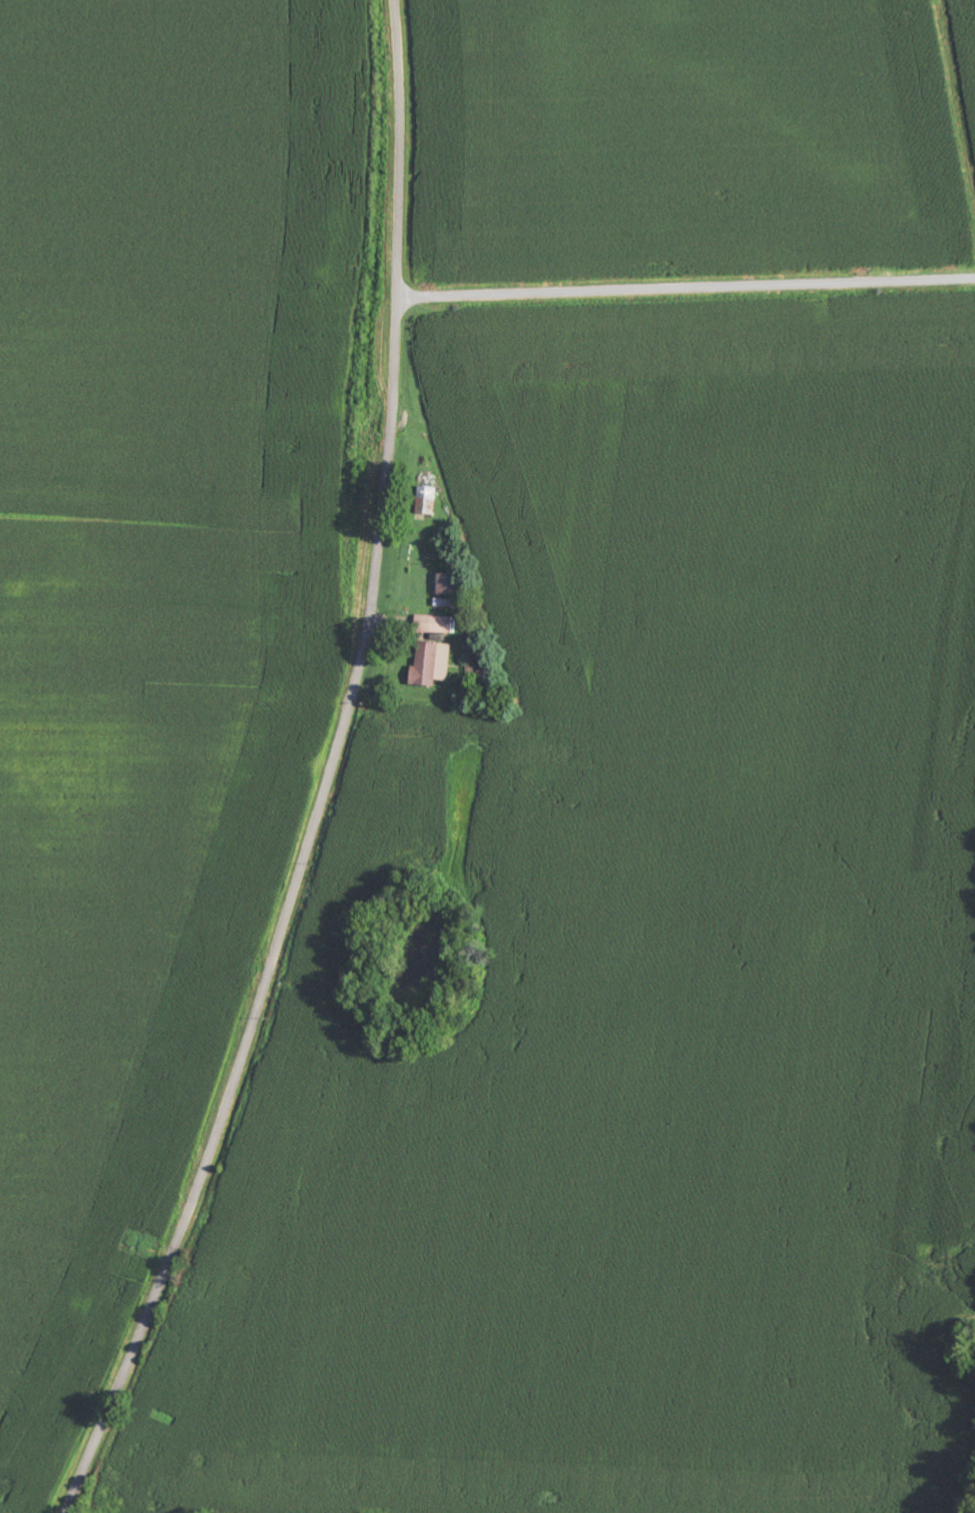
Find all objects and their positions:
road: (686, 289)
building: (424, 501)
building: (447, 584)
building: (433, 624)
building: (430, 663)
road: (330, 776)

